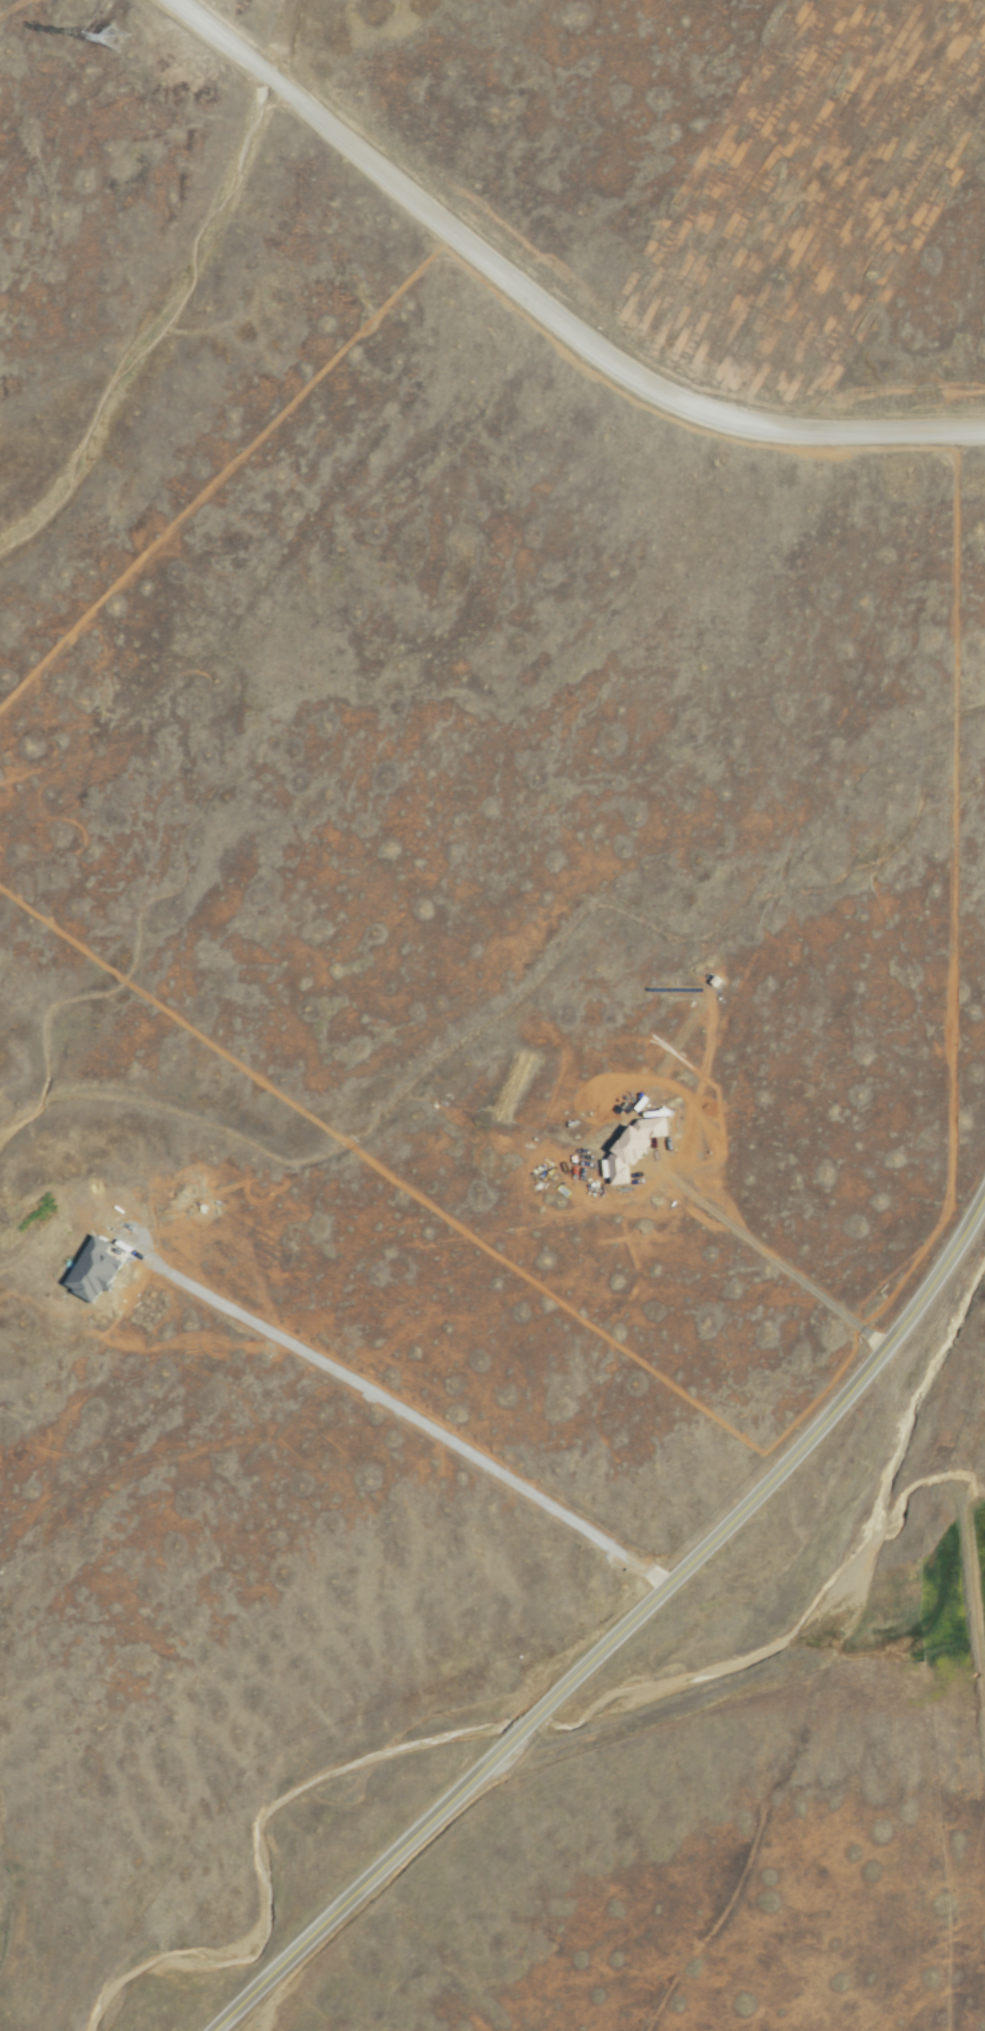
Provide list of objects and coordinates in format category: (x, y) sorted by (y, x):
power tower: (118, 45)
road: (538, 307)
building: (632, 1143)
building: (96, 1270)
road: (620, 1629)

